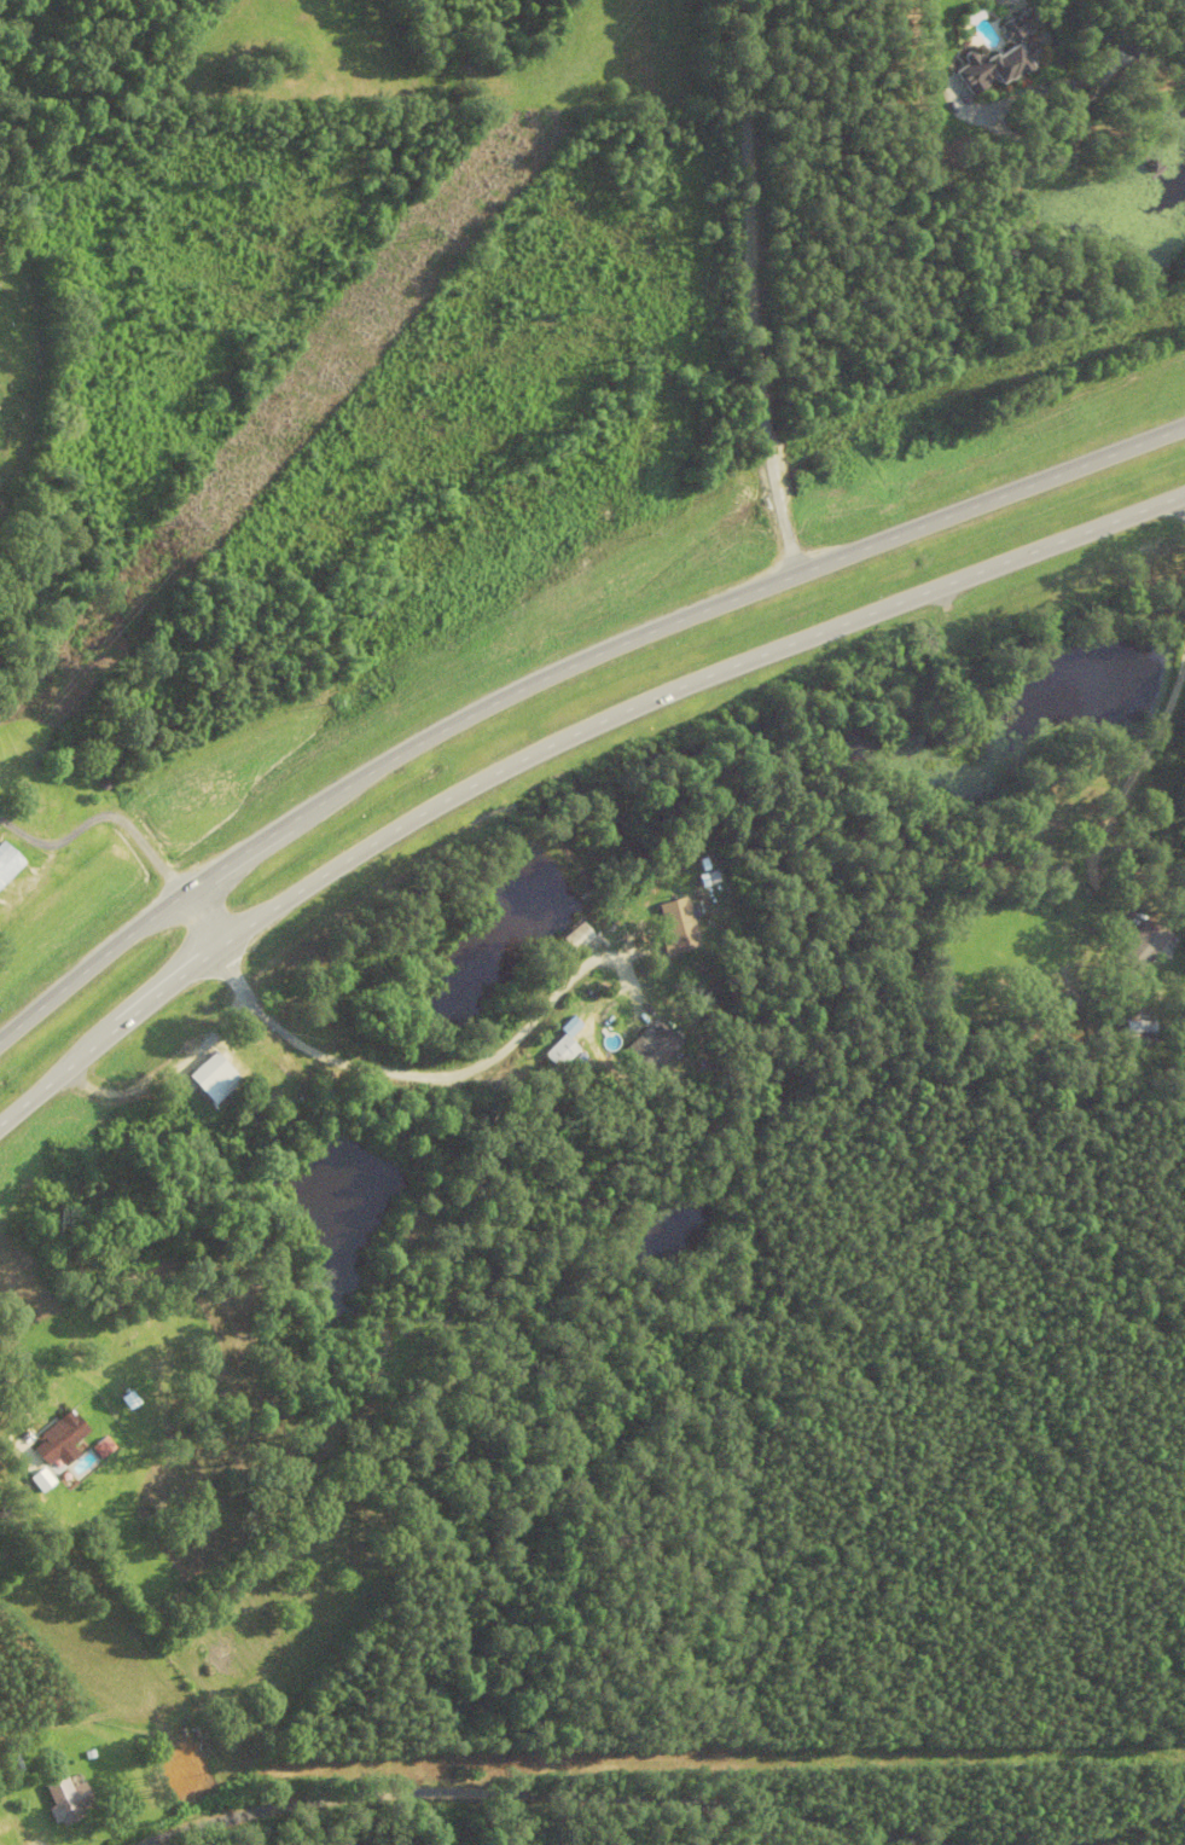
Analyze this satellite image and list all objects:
road: (1116, 41)
building: (1006, 58)
road: (747, 289)
road: (558, 668)
road: (1160, 719)
road: (556, 743)
building: (8, 865)
road: (198, 916)
building: (680, 934)
building: (1146, 947)
building: (1138, 1025)
building: (654, 1050)
building: (565, 1056)
building: (220, 1077)
road: (399, 1081)
building: (62, 1441)
building: (11, 1764)
building: (181, 1783)
road: (503, 1794)
building: (70, 1804)
road: (1129, 1823)
building: (4, 1829)

